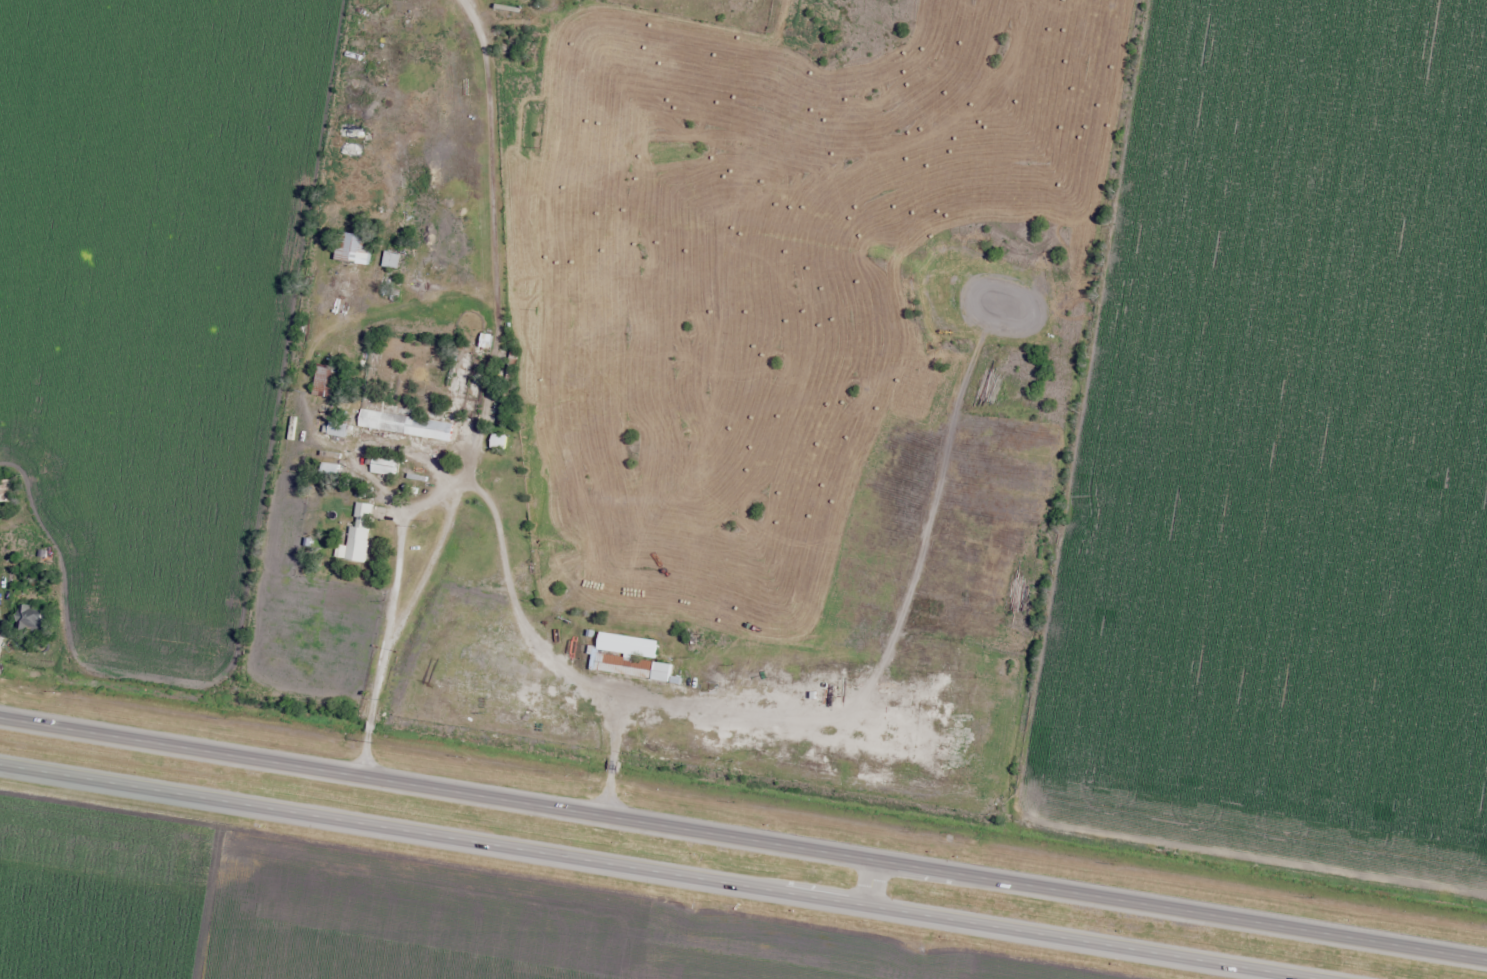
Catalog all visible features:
building: (356, 247)
building: (393, 260)
building: (328, 381)
building: (407, 426)
building: (341, 430)
building: (387, 466)
building: (360, 545)
building: (35, 620)
building: (631, 645)
building: (635, 667)
road: (743, 837)
road: (659, 871)
road: (869, 882)
crop: (390, 911)

